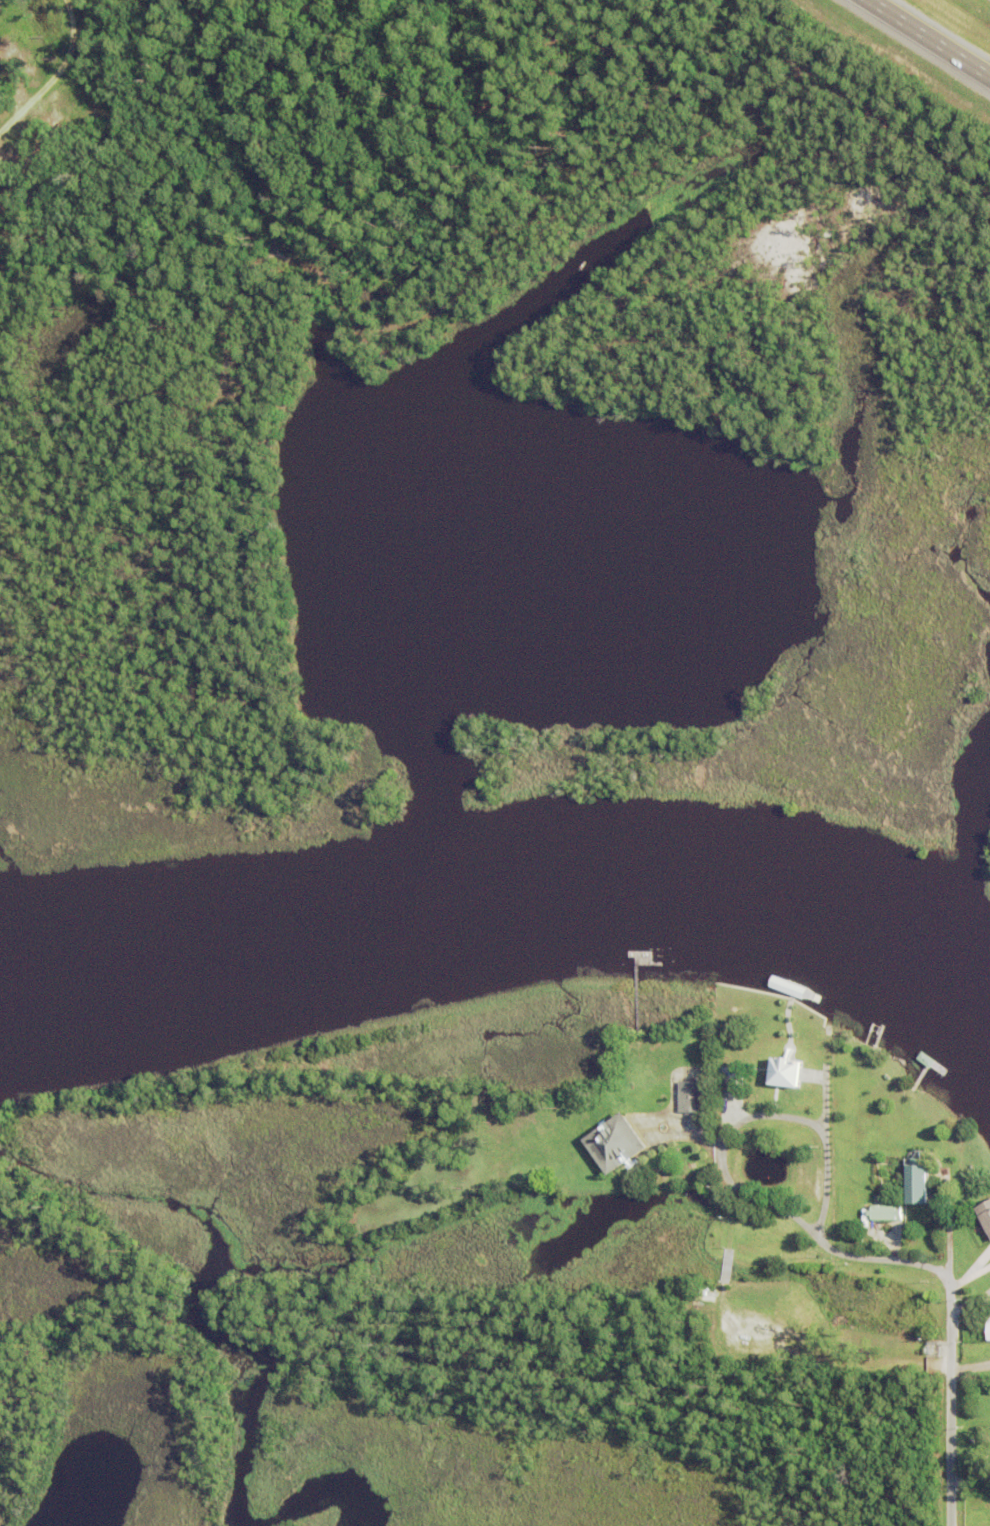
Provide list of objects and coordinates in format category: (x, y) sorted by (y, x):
road: (928, 40)
river: (507, 922)
building: (788, 988)
building: (927, 1060)
building: (787, 1073)
building: (732, 1080)
building: (692, 1098)
road: (748, 1117)
building: (617, 1145)
building: (918, 1184)
building: (888, 1214)
building: (986, 1215)
building: (861, 1220)
building: (861, 1239)
building: (989, 1326)
road: (951, 1327)

